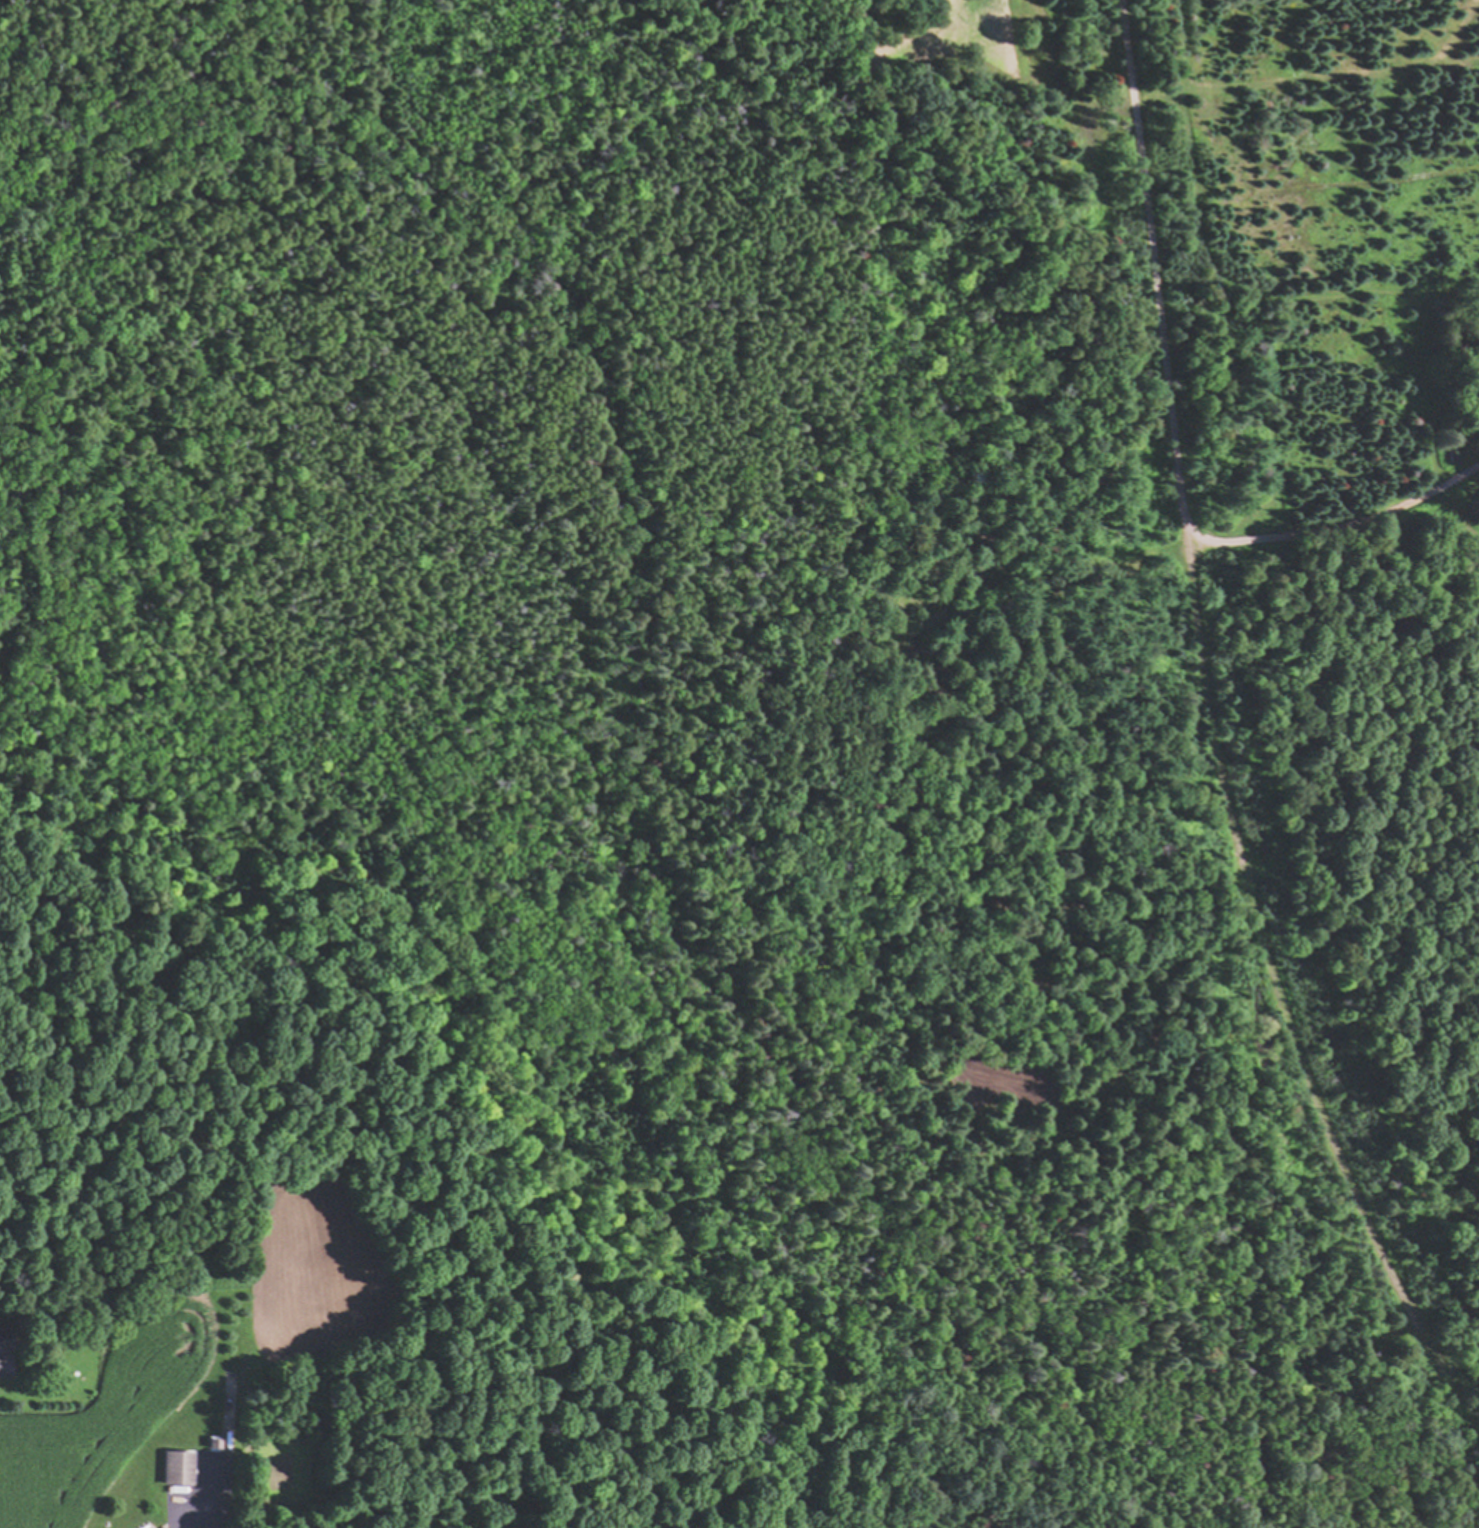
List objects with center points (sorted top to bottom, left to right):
road: (1149, 261)
building: (1456, 454)
road: (1329, 526)
road: (1268, 1000)
building: (7, 1353)
building: (324, 1421)
building: (215, 1446)
building: (182, 1469)

